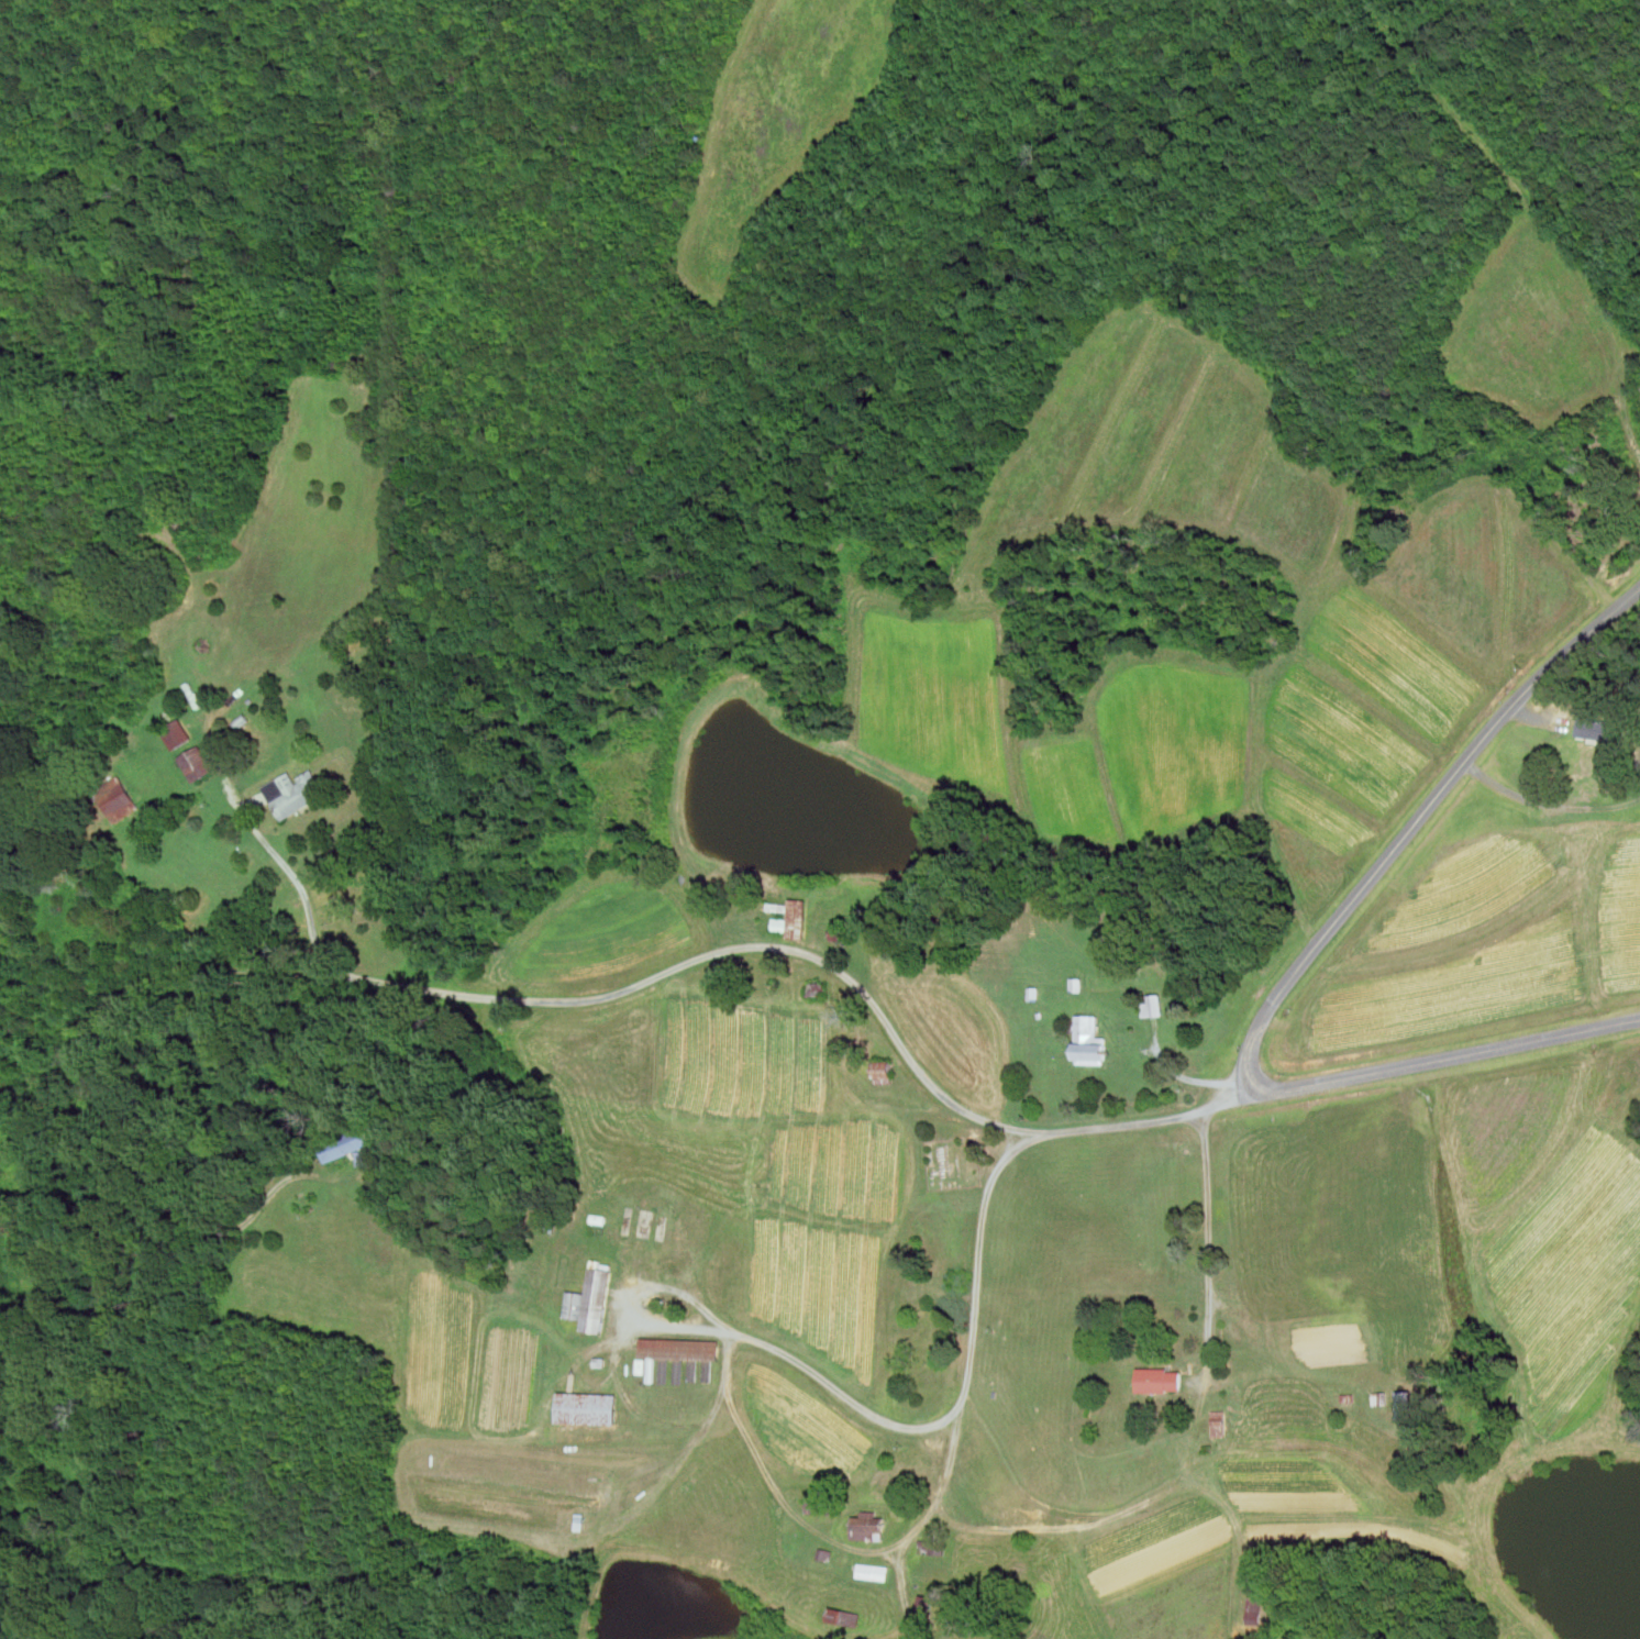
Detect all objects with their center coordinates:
building: (1632, 685)
building: (1598, 728)
building: (175, 734)
building: (195, 764)
building: (292, 793)
road: (1548, 802)
building: (791, 918)
road: (749, 944)
road: (1294, 972)
building: (1088, 1041)
building: (883, 1072)
road: (84, 1115)
building: (342, 1144)
park: (953, 1162)
road: (1206, 1227)
building: (589, 1303)
building: (678, 1349)
building: (1159, 1381)
road: (966, 1384)
building: (1404, 1405)
building: (586, 1409)
road: (753, 1447)
building: (522, 1473)
road: (649, 1502)
building: (867, 1528)
building: (930, 1548)
building: (872, 1573)
building: (923, 1608)
building: (1254, 1608)
building: (840, 1617)

